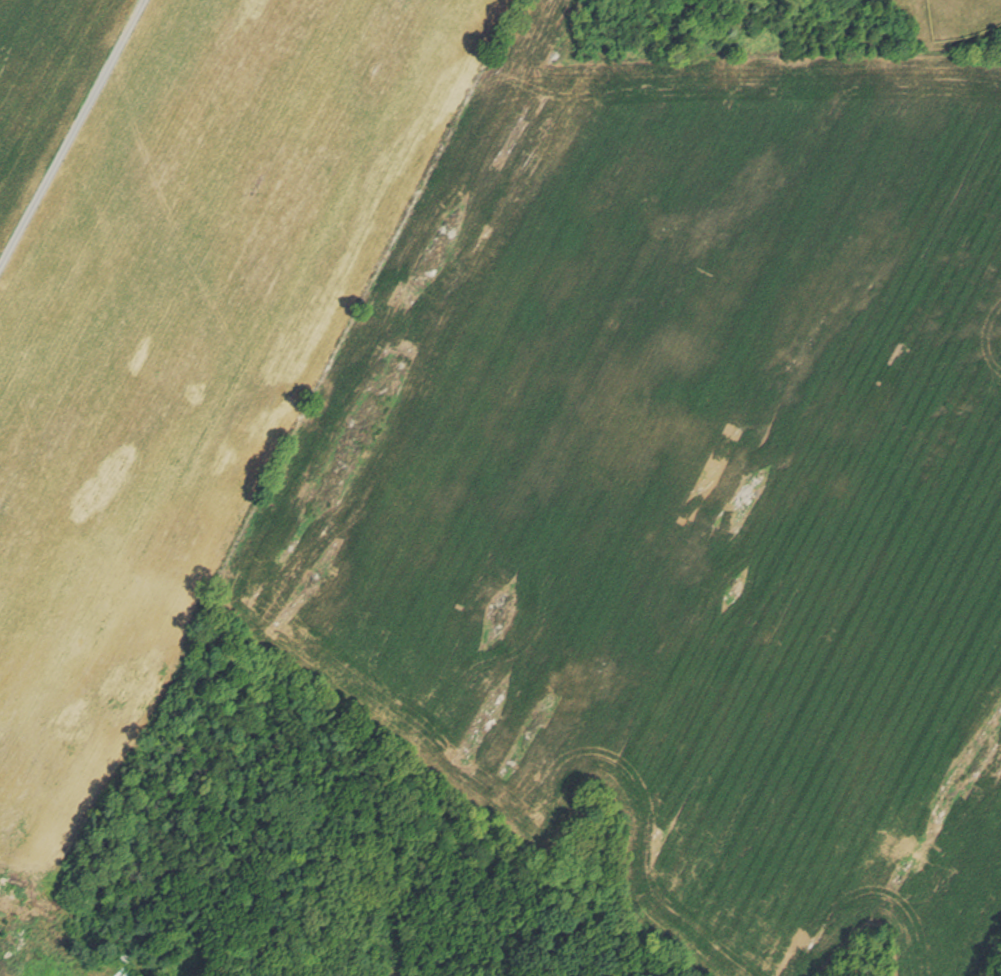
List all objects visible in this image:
park: (960, 17)
park: (811, 27)
road: (73, 136)

